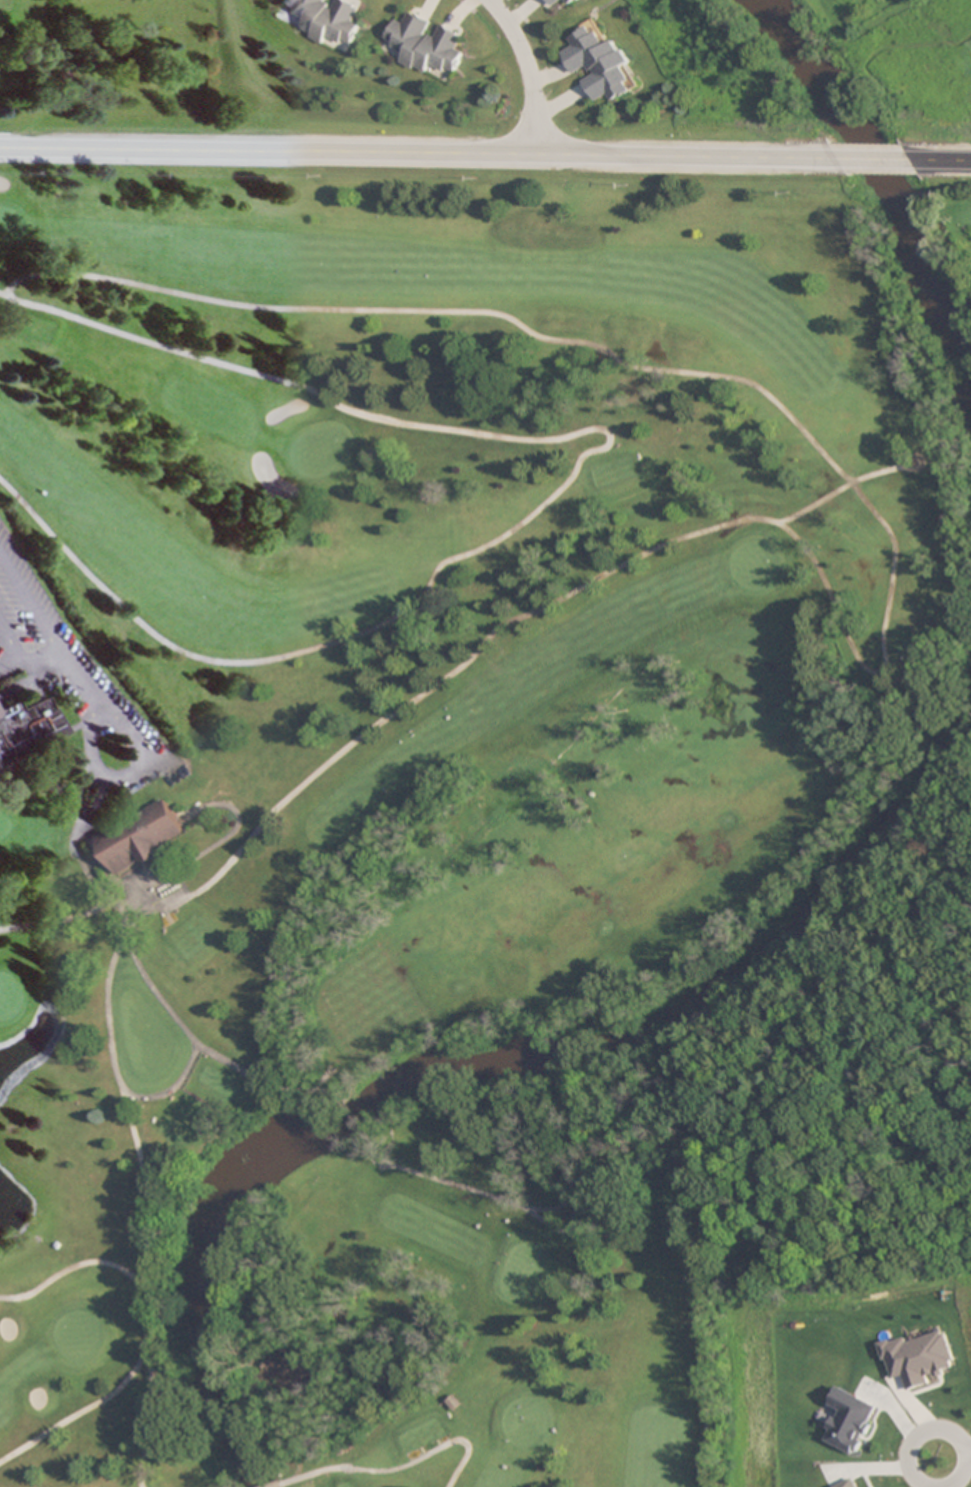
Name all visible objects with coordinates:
building: (553, 2)
building: (570, 2)
building: (325, 19)
building: (424, 44)
building: (599, 63)
park: (106, 69)
road: (526, 71)
road: (419, 152)
road: (874, 160)
road: (940, 160)
river: (876, 185)
road: (4, 292)
road: (310, 308)
road: (861, 478)
road: (18, 647)
building: (25, 726)
park: (420, 788)
road: (76, 835)
building: (137, 836)
road: (54, 923)
river: (497, 1066)
road: (168, 1090)
road: (497, 1198)
road: (147, 1203)
road: (561, 1230)
road: (70, 1266)
building: (919, 1357)
building: (453, 1402)
road: (83, 1407)
building: (849, 1420)
road: (933, 1429)
road: (967, 1453)
road: (392, 1467)

